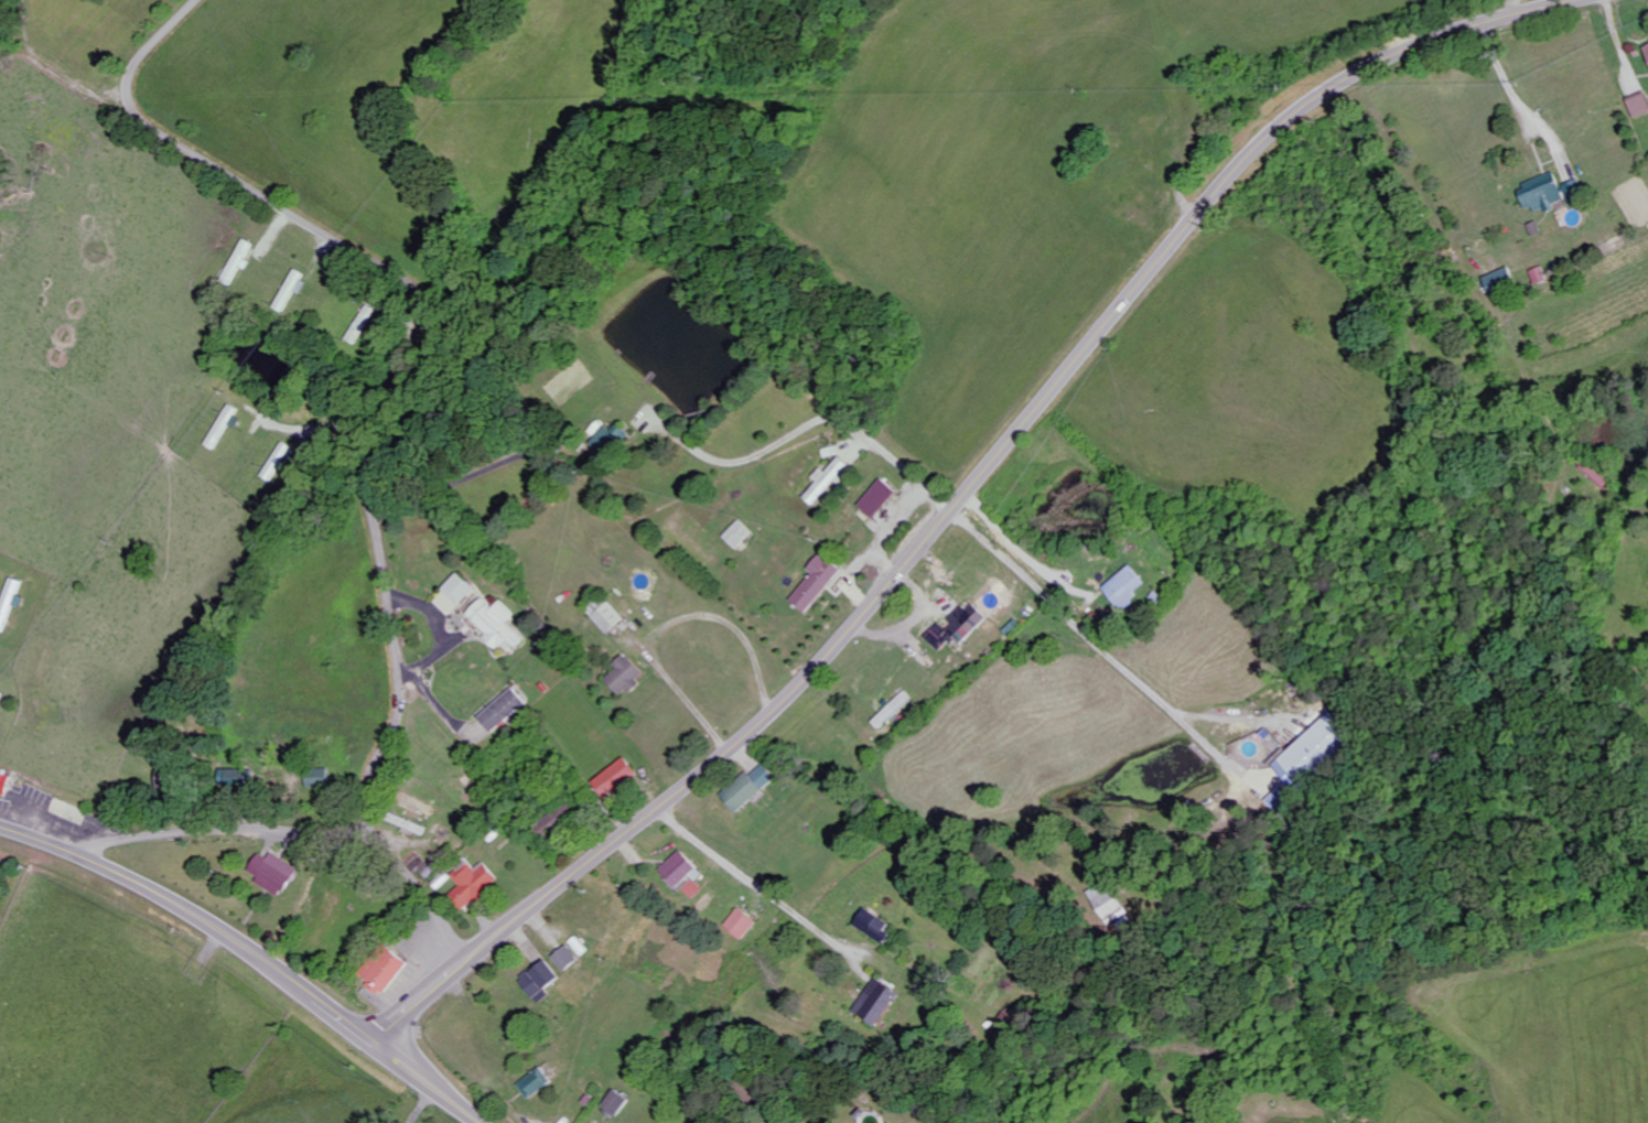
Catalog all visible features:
building: (1647, 46)
building: (1641, 106)
building: (1547, 193)
building: (240, 260)
building: (1544, 276)
building: (1507, 283)
building: (294, 290)
road: (417, 341)
building: (225, 426)
building: (614, 440)
road: (761, 451)
road: (903, 468)
building: (828, 480)
road: (962, 495)
building: (880, 498)
building: (740, 534)
building: (819, 583)
building: (1130, 586)
building: (462, 589)
building: (448, 603)
building: (10, 604)
building: (611, 618)
building: (498, 623)
building: (960, 628)
road: (1101, 644)
building: (627, 676)
building: (0, 684)
building: (2, 699)
building: (894, 710)
building: (504, 711)
building: (1313, 758)
building: (620, 779)
building: (6, 781)
building: (752, 788)
parking lot: (51, 817)
road: (34, 821)
road: (294, 833)
building: (683, 870)
building: (276, 873)
road: (756, 883)
building: (475, 886)
building: (693, 889)
building: (1111, 903)
building: (743, 924)
building: (877, 926)
road: (254, 951)
road: (692, 952)
building: (569, 959)
building: (386, 972)
building: (545, 981)
building: (877, 1003)
building: (538, 1083)
building: (618, 1103)

